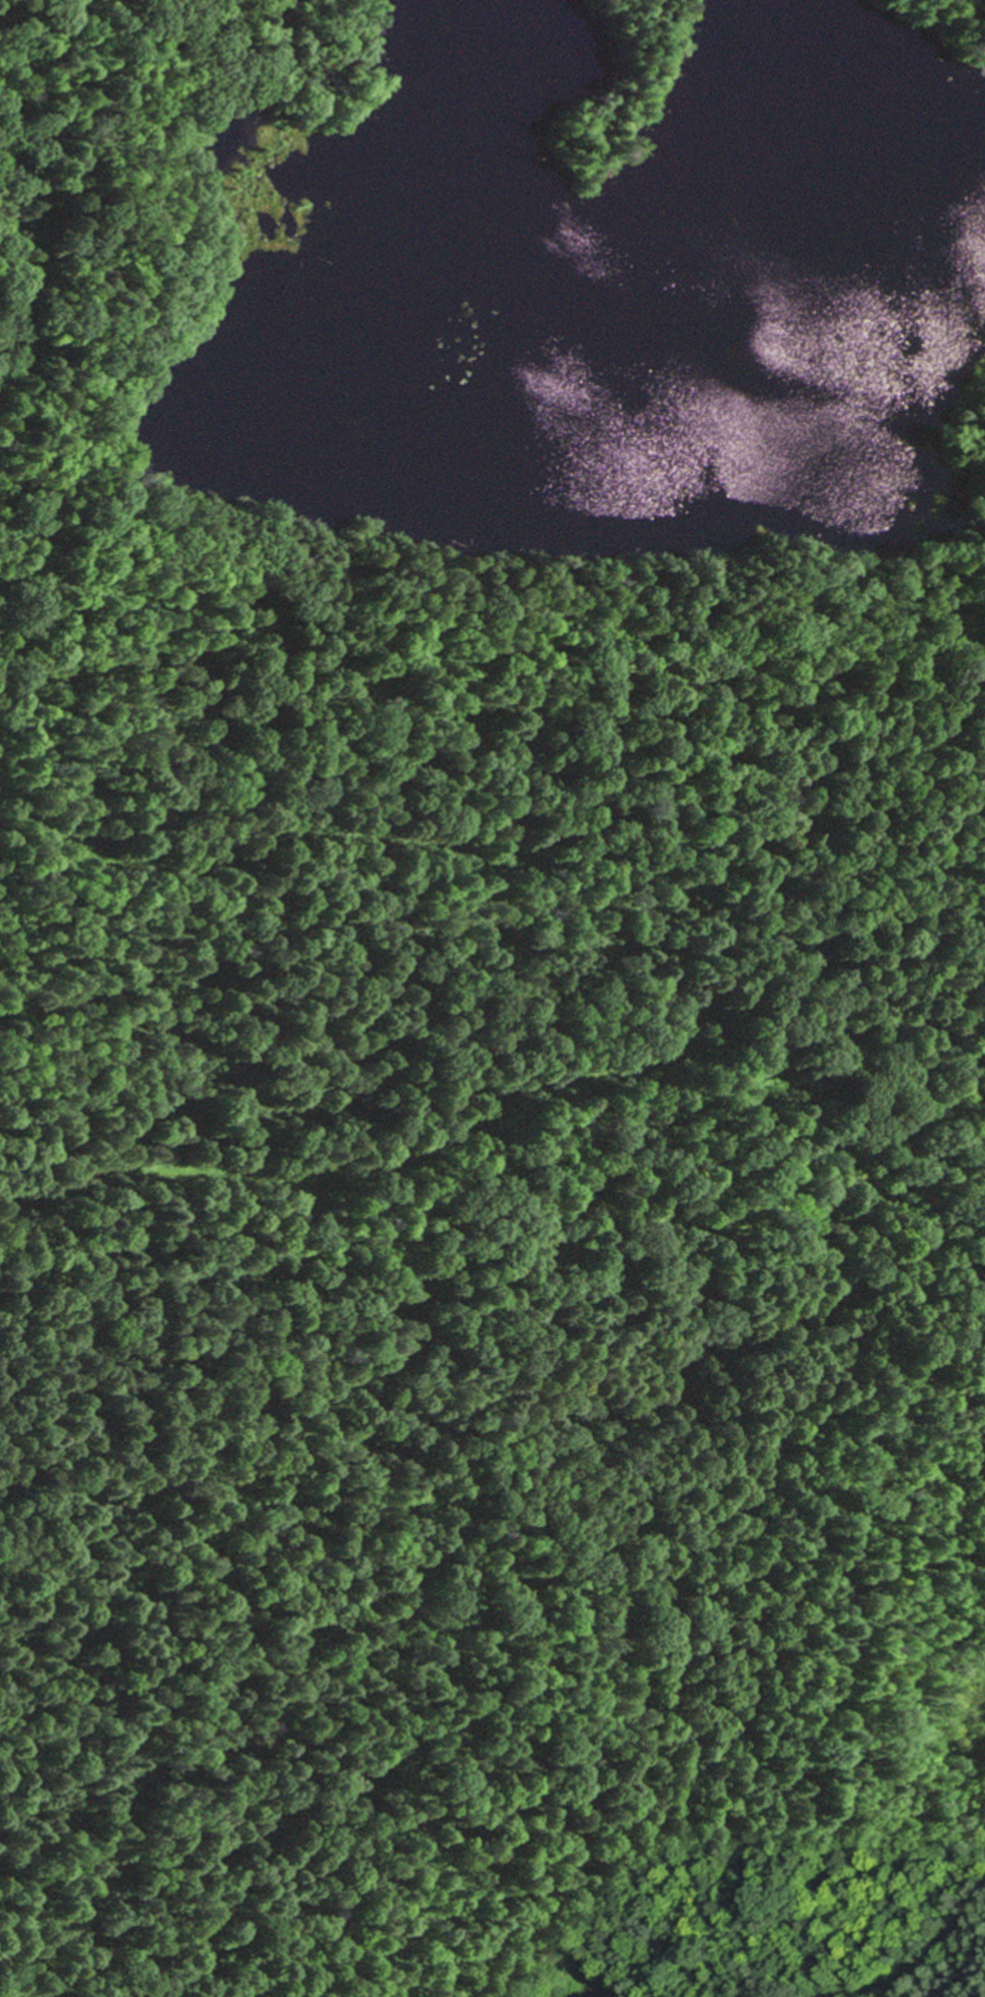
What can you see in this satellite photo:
road: (982, 479)
road: (239, 545)
road: (535, 1092)
road: (226, 1585)

